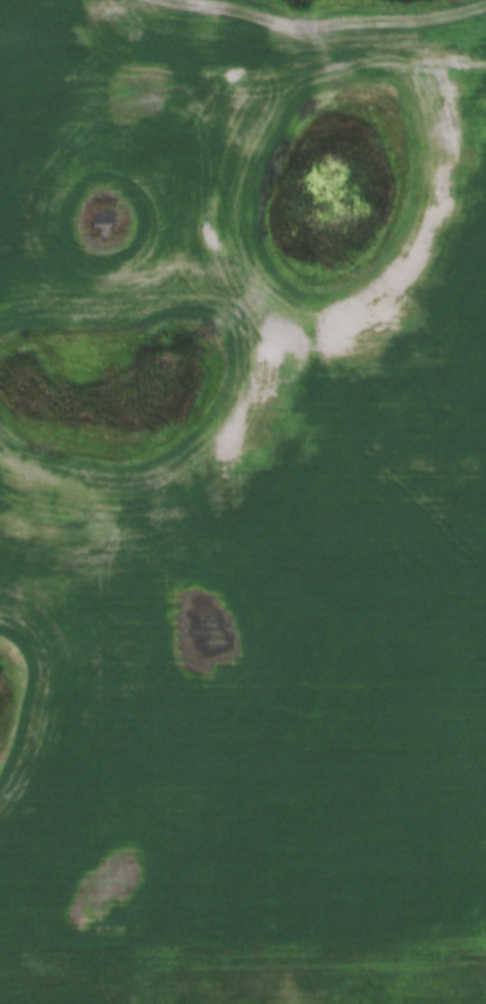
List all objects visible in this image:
road: (243, 971)

